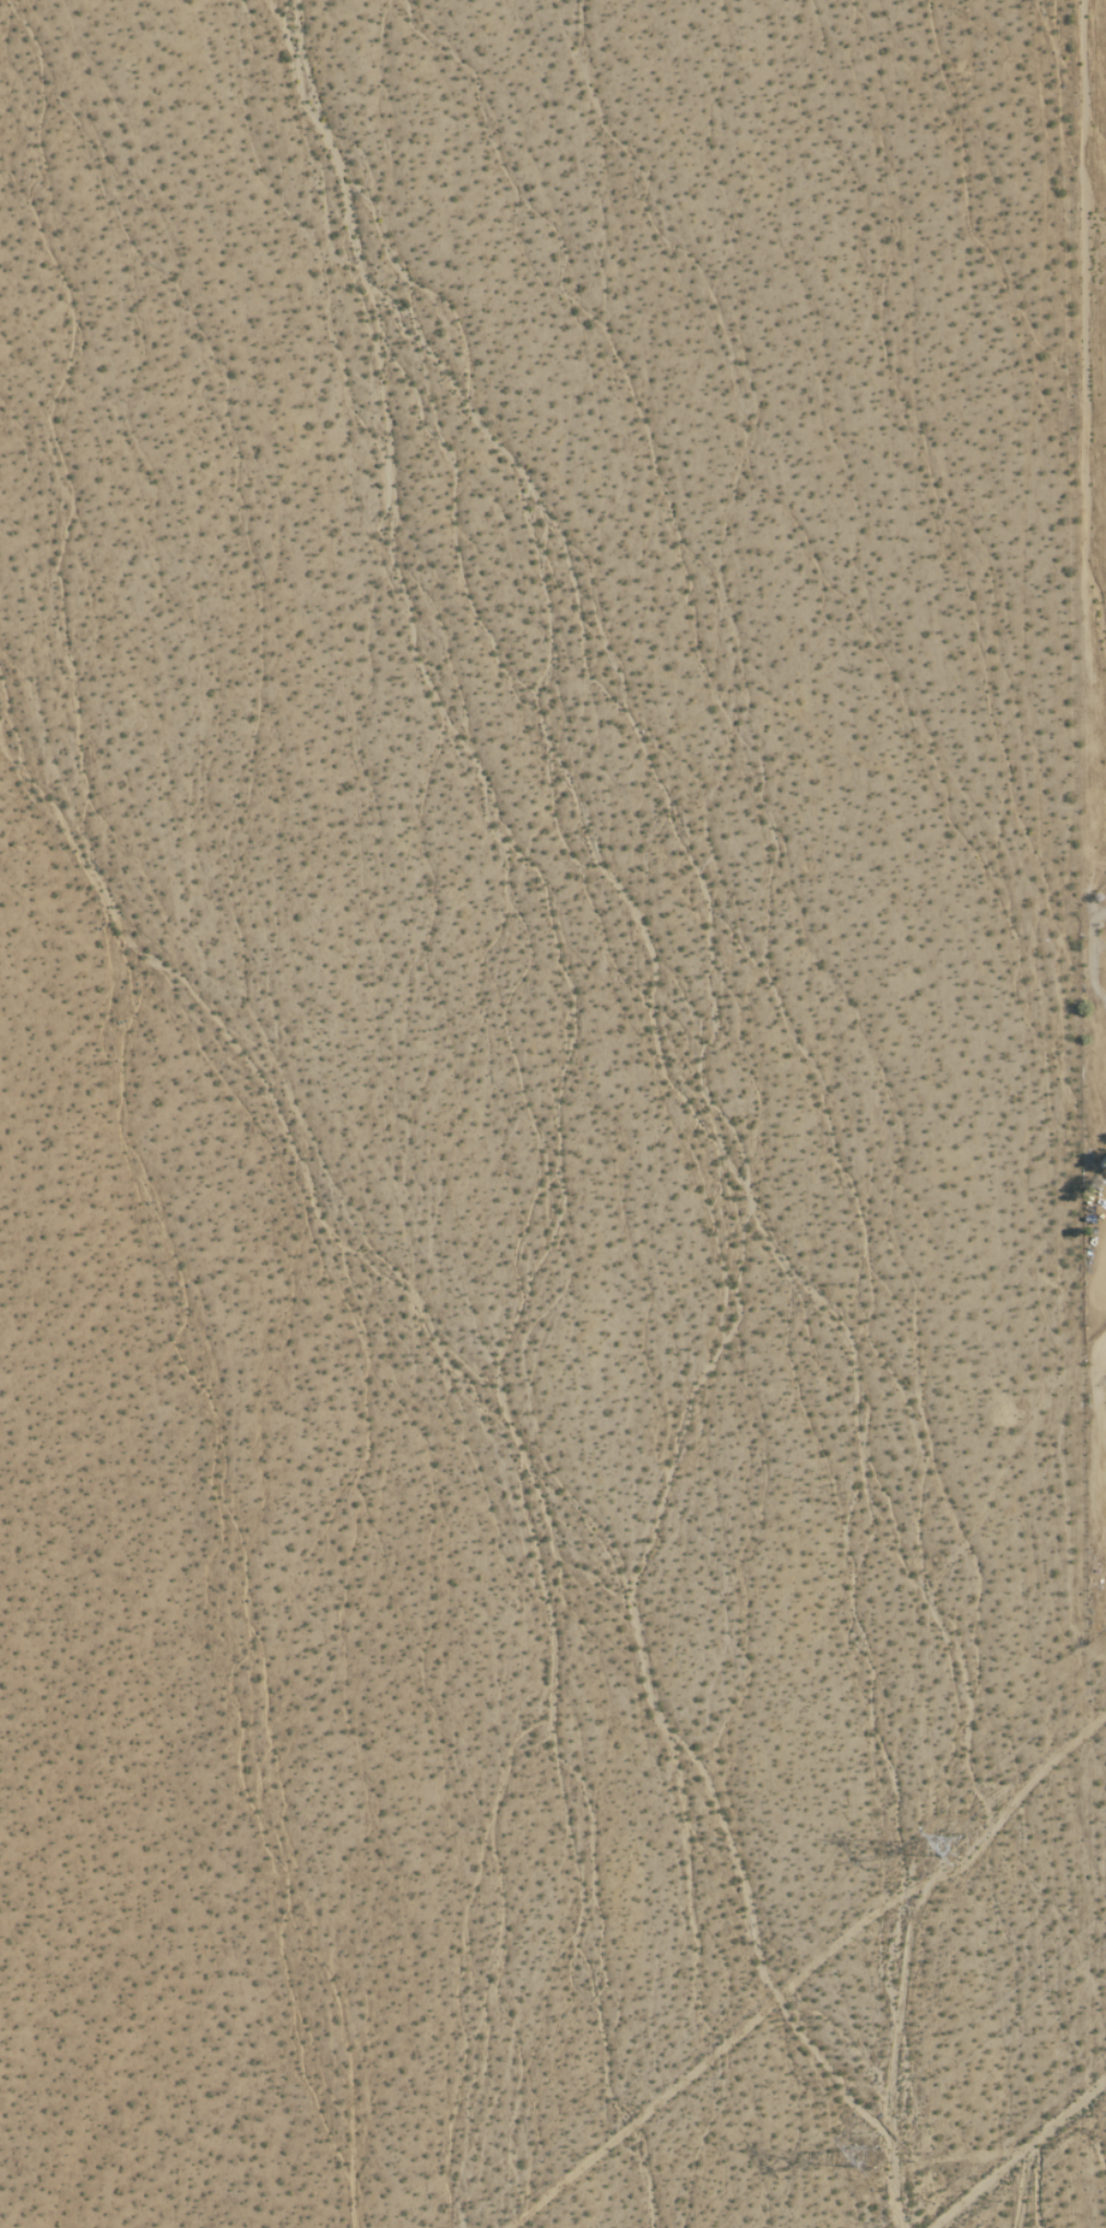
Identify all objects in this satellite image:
road: (1101, 1352)
power tower: (950, 1848)
power tower: (866, 2160)
road: (1033, 2164)

